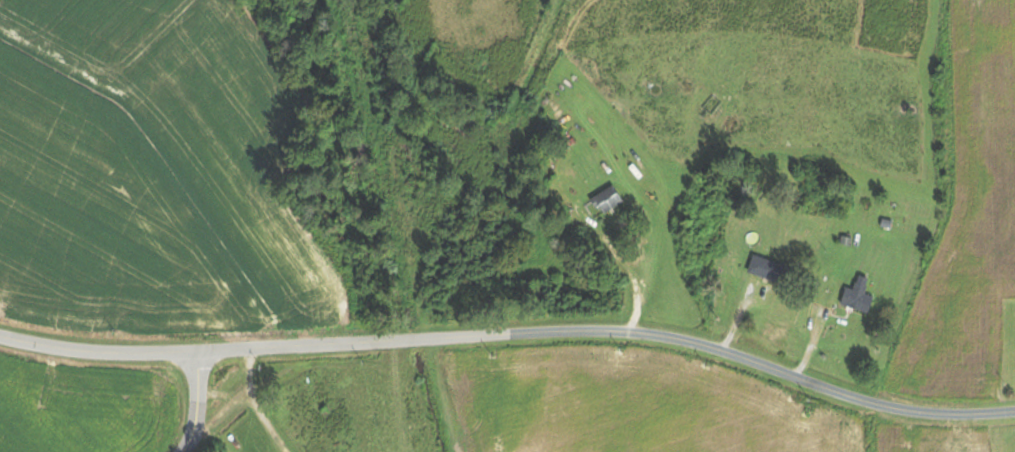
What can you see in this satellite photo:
building: (610, 200)
building: (771, 269)
building: (860, 296)
road: (512, 339)
road: (198, 404)

